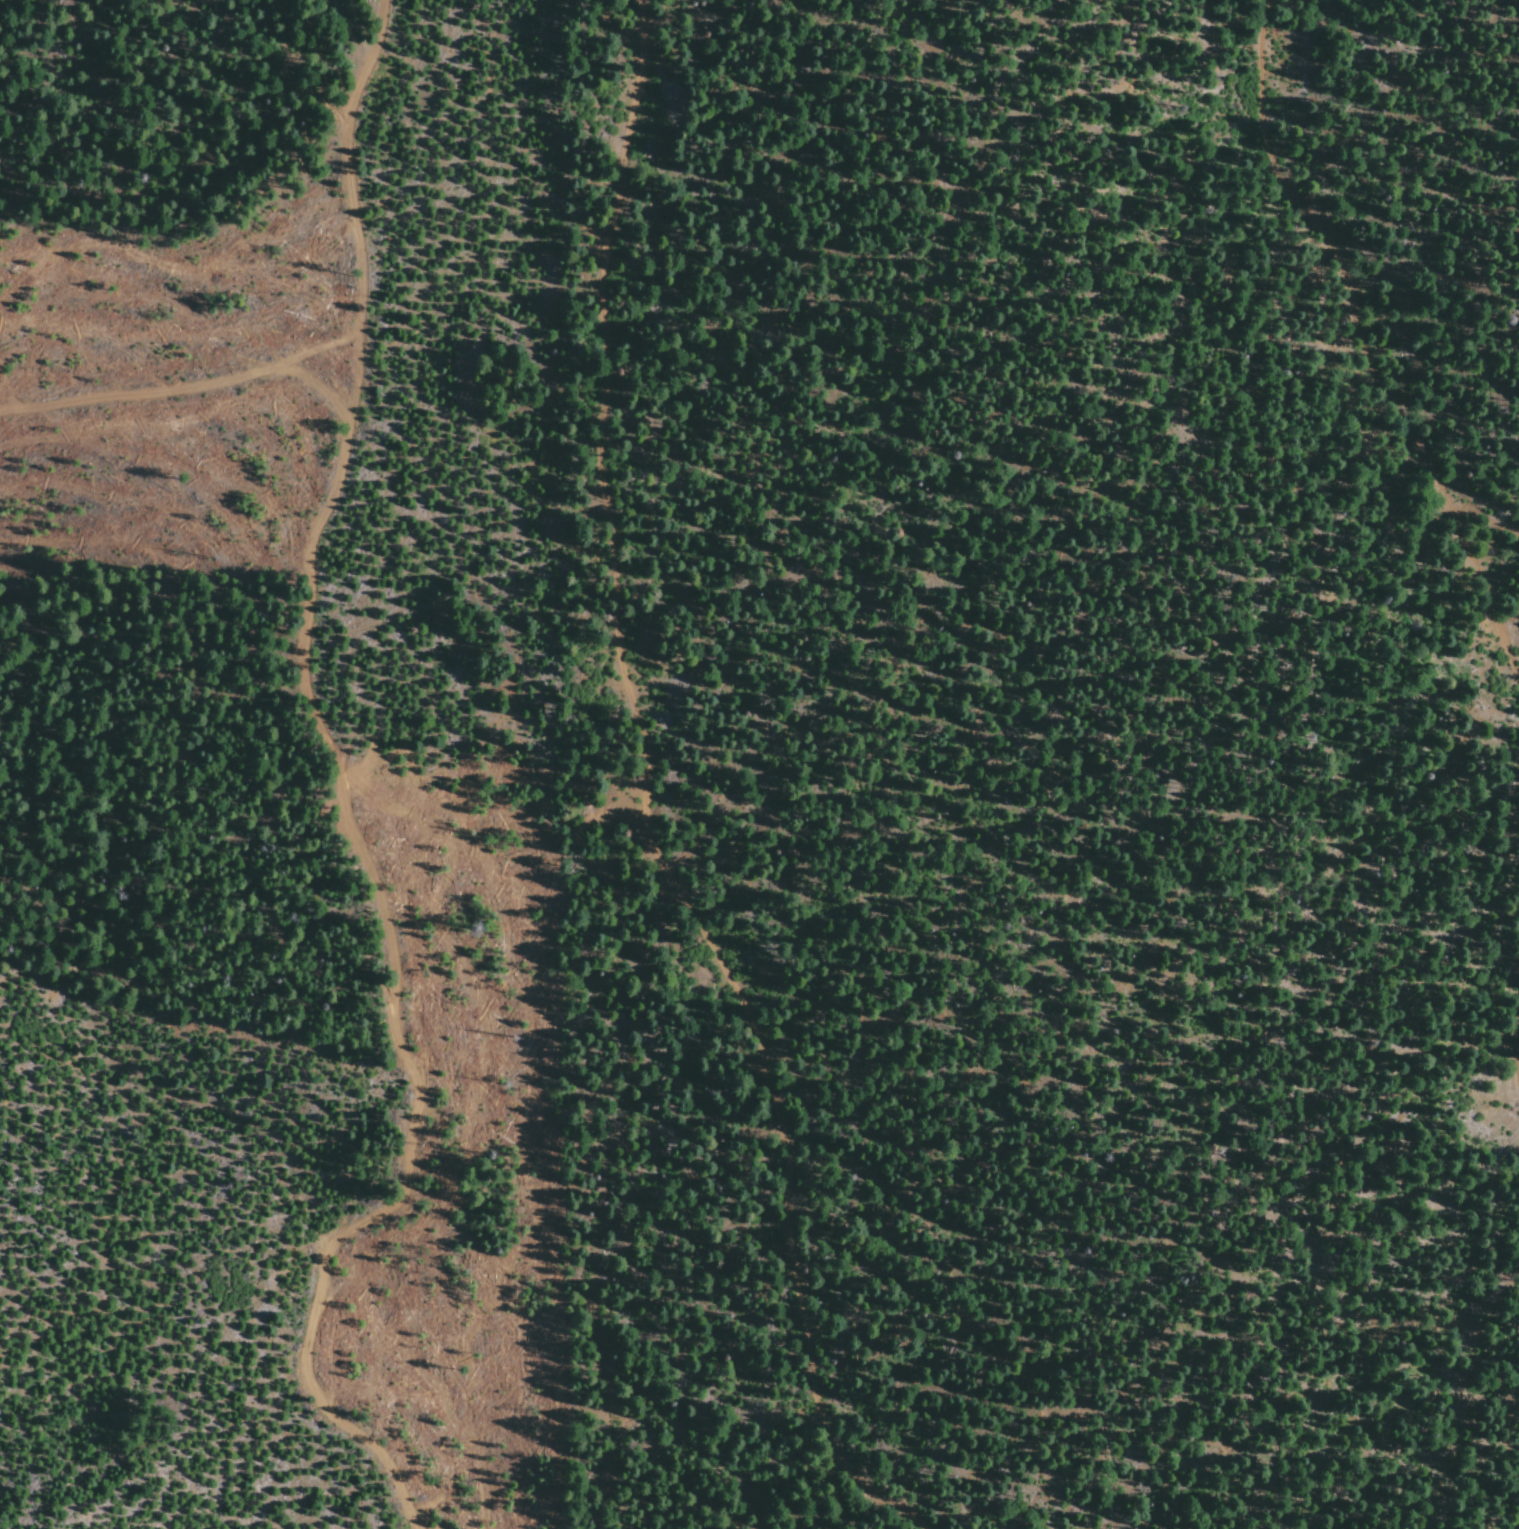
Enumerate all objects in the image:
road: (607, 288)

